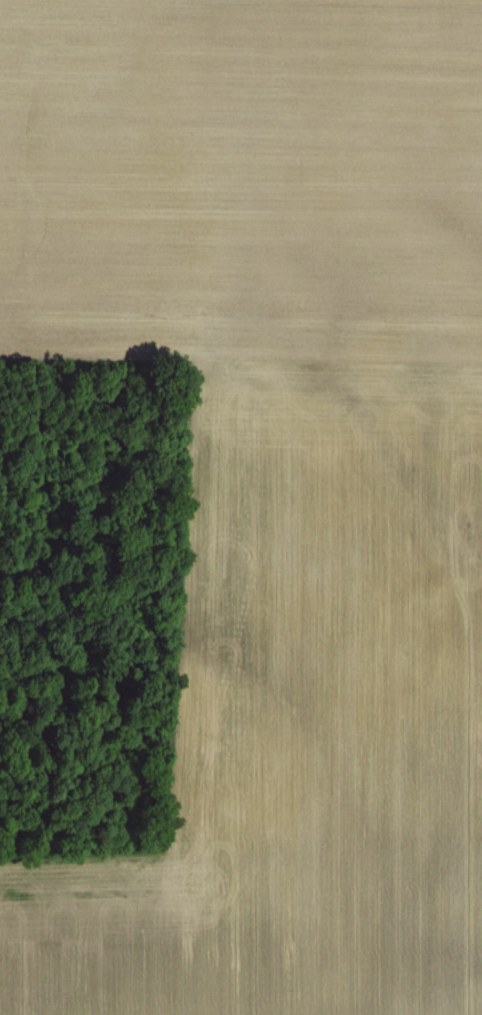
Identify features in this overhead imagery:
crop: (241, 507)

